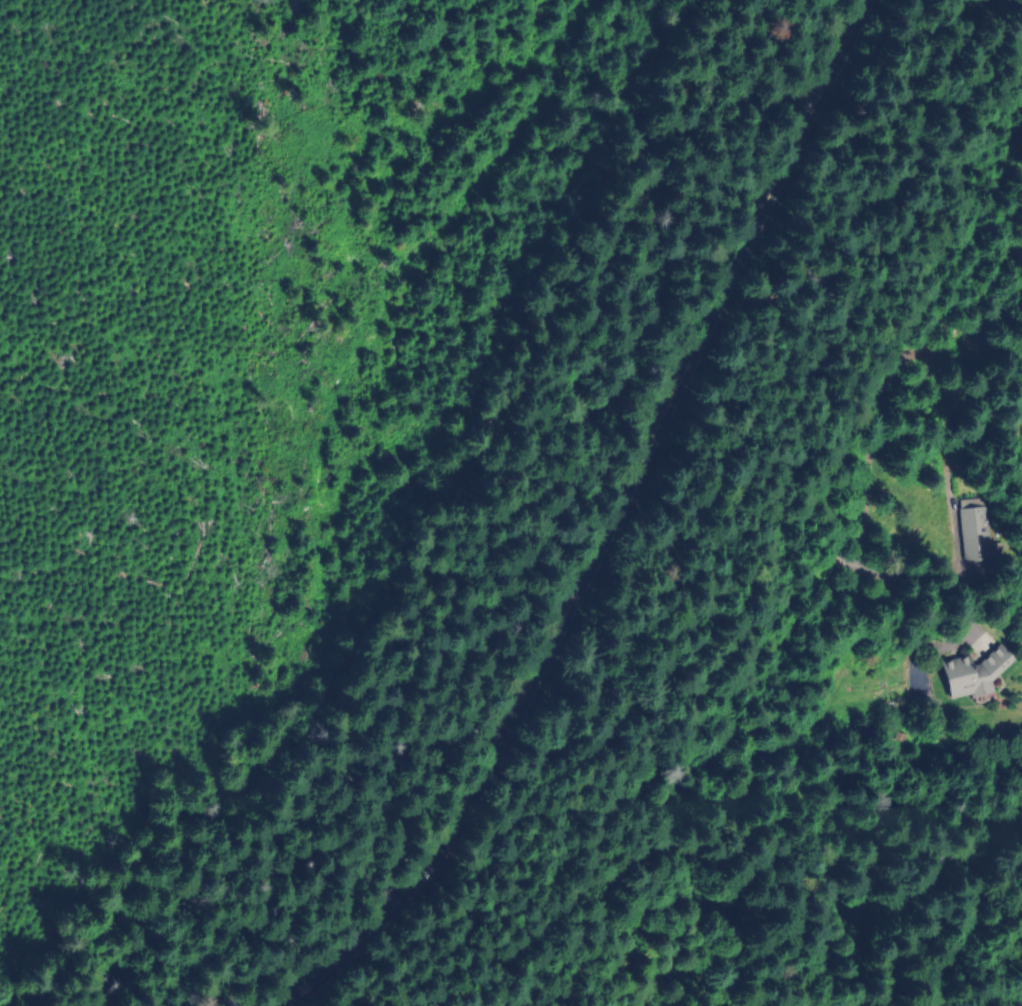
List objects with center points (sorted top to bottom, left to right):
road: (636, 265)
road: (299, 428)
road: (619, 522)
building: (972, 532)
building: (971, 671)

